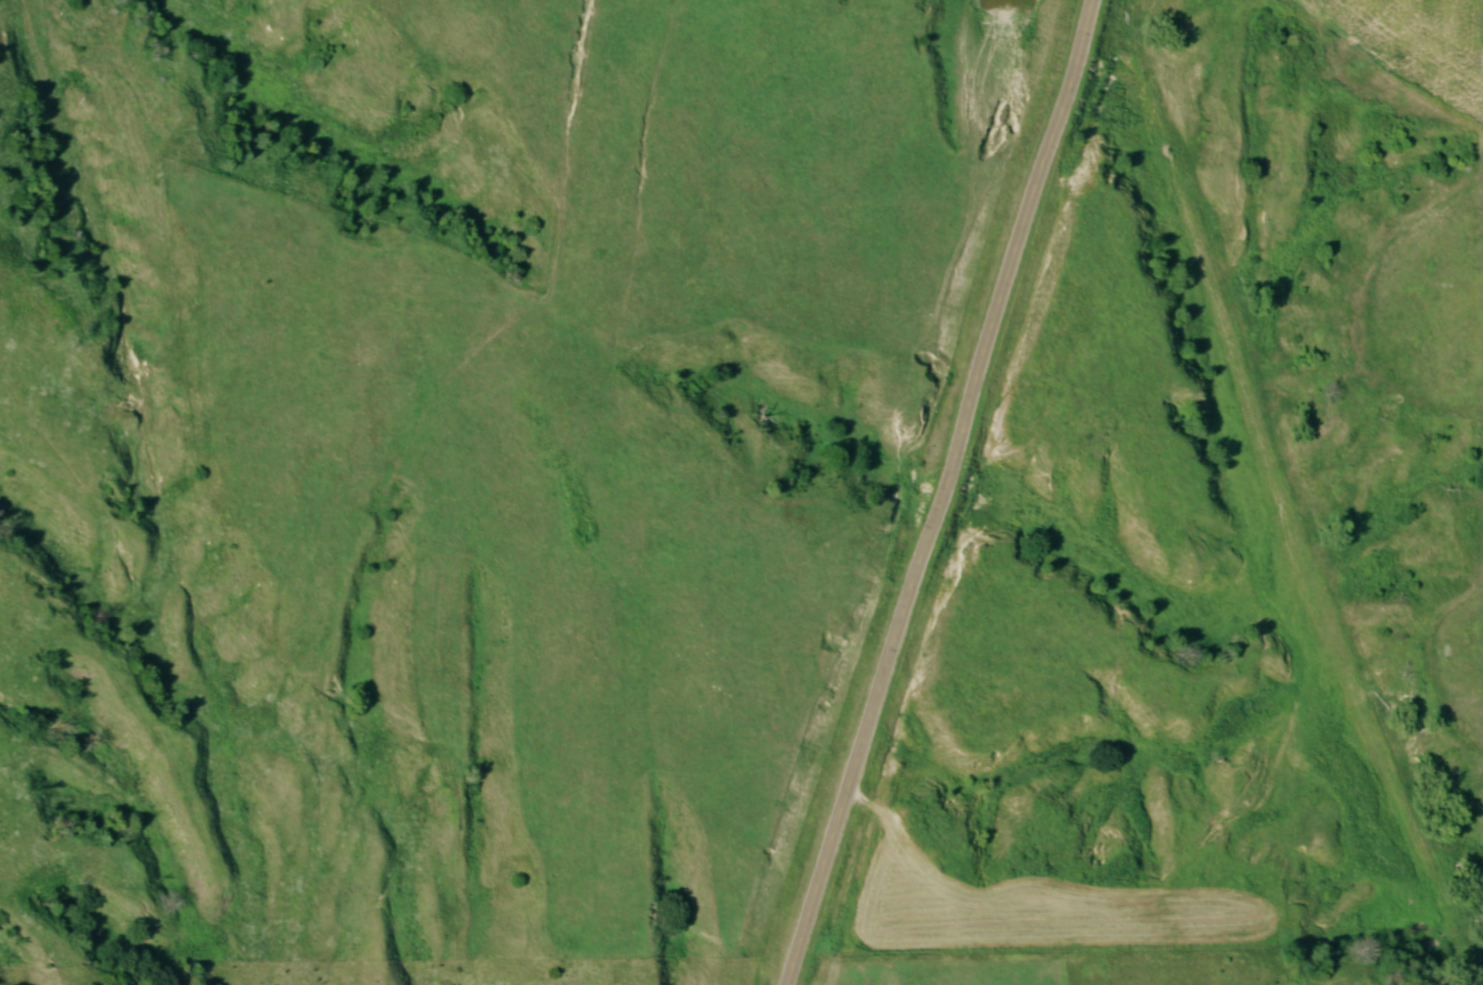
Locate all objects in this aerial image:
road: (939, 492)

